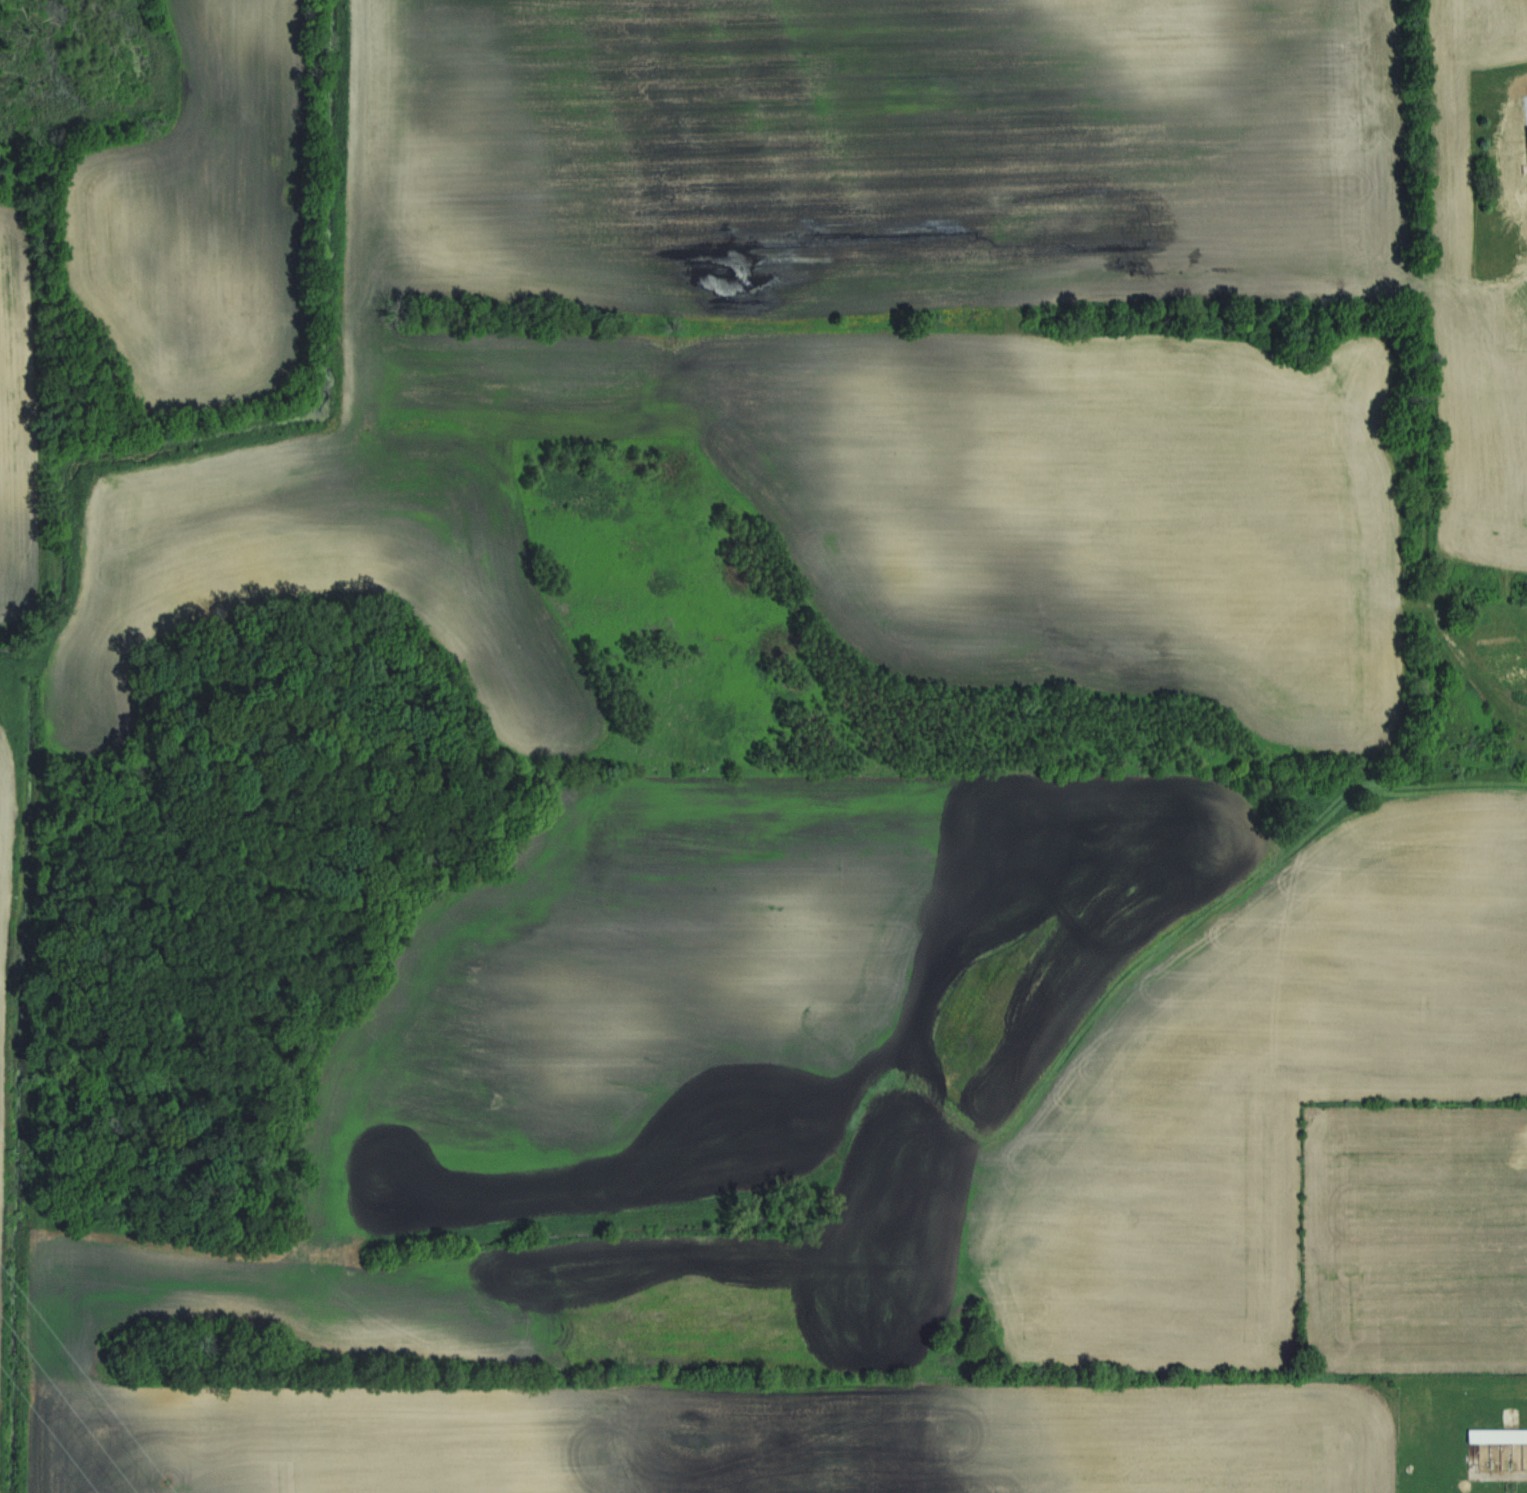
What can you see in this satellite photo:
building: (1497, 1436)

